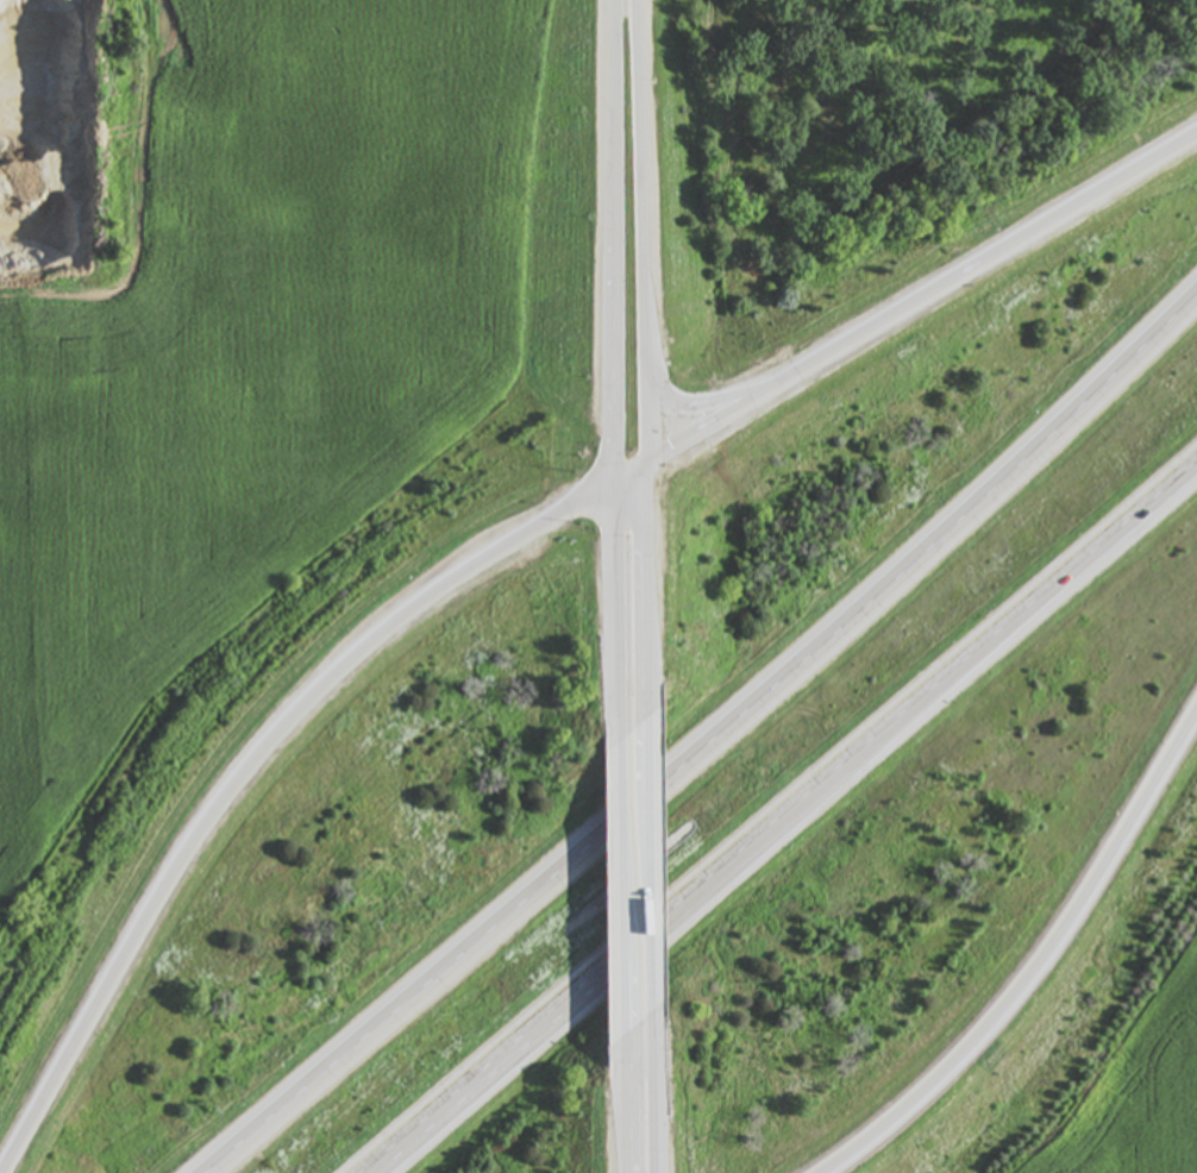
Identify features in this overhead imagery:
road: (641, 232)
road: (616, 241)
road: (996, 257)
road: (717, 399)
road: (721, 421)
road: (631, 475)
road: (648, 589)
road: (618, 608)
road: (901, 716)
road: (710, 747)
road: (245, 764)
road: (653, 860)
road: (622, 884)
road: (1032, 961)
road: (481, 1073)
road: (656, 1091)
road: (625, 1104)

